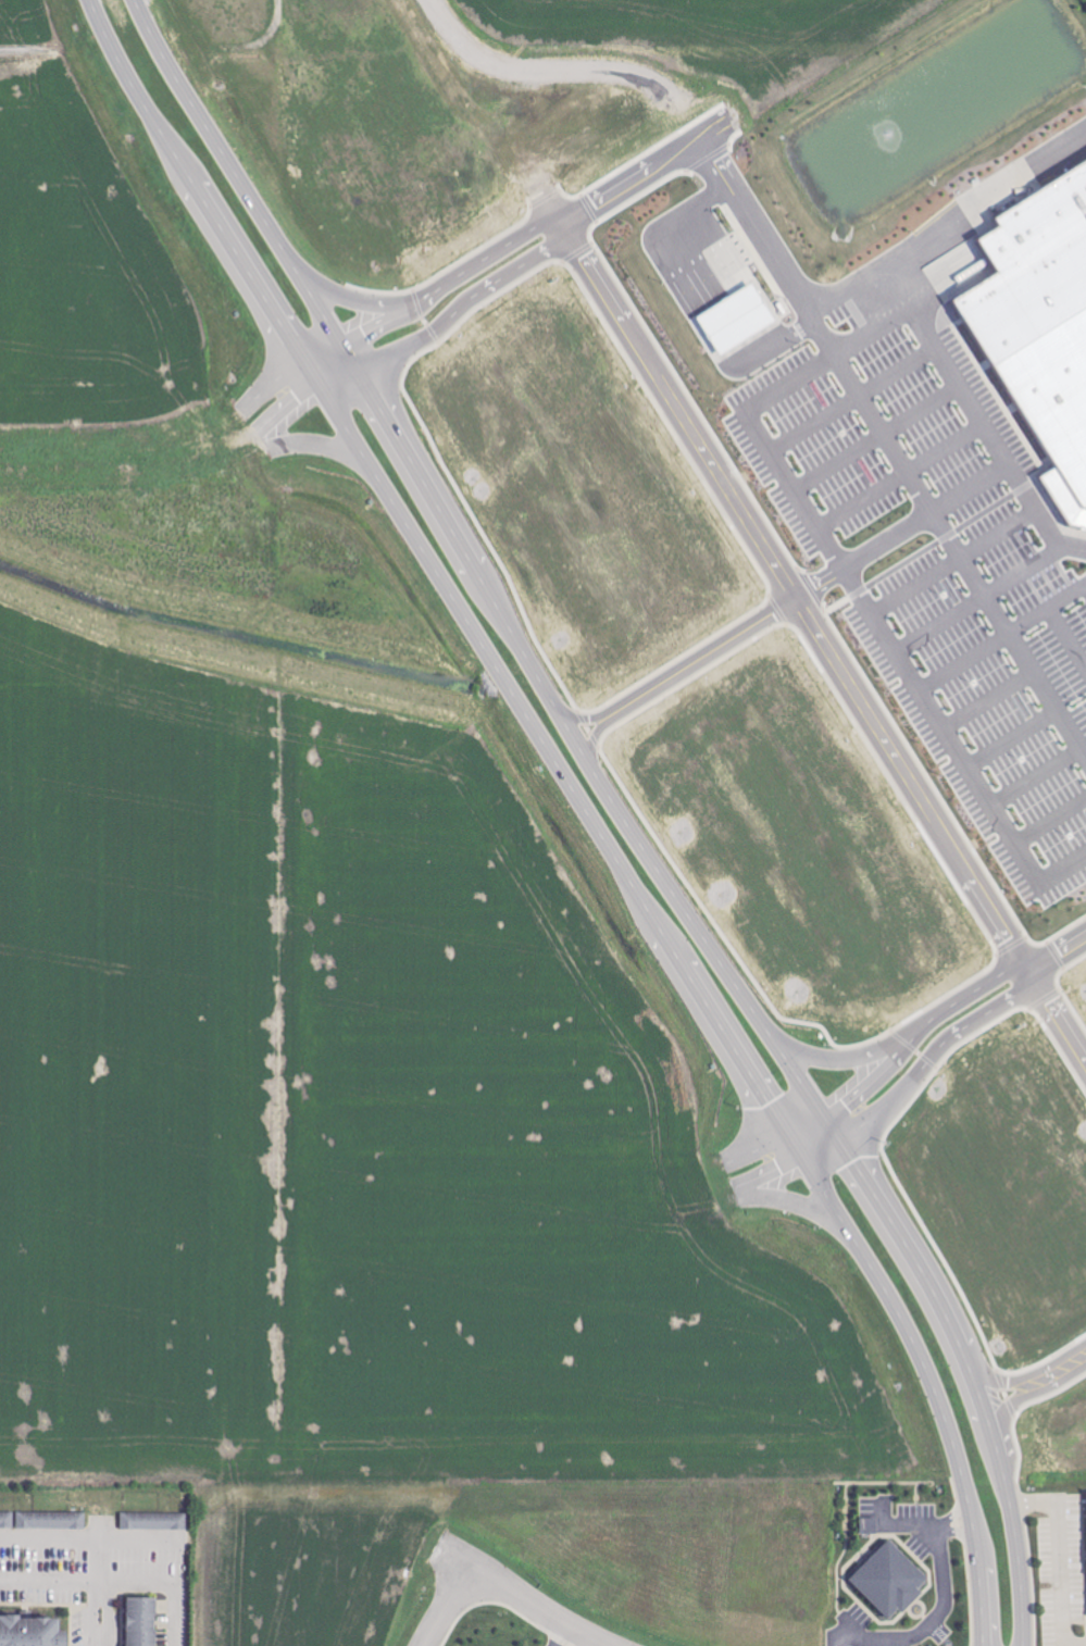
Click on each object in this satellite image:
road: (728, 172)
road: (561, 225)
road: (860, 283)
road: (358, 301)
building: (1034, 314)
building: (738, 319)
gas station: (736, 320)
road: (335, 371)
road: (968, 398)
road: (854, 399)
road: (878, 437)
road: (903, 476)
road: (902, 532)
road: (949, 537)
road: (946, 538)
parking lot: (940, 552)
road: (960, 554)
road: (956, 561)
road: (859, 593)
road: (981, 600)
road: (1048, 609)
road: (832, 610)
road: (882, 624)
road: (817, 631)
road: (1069, 635)
road: (702, 658)
road: (966, 662)
road: (989, 700)
road: (585, 716)
road: (598, 738)
road: (1014, 739)
road: (1039, 778)
road: (584, 805)
road: (620, 810)
road: (1051, 822)
road: (1059, 955)
road: (1029, 972)
road: (846, 1058)
road: (848, 1121)
road: (819, 1142)
road: (1064, 1369)
road: (1010, 1383)
road: (1018, 1405)
road: (956, 1516)
building: (7, 1519)
building: (51, 1520)
building: (154, 1521)
building: (870, 1525)
road: (900, 1526)
road: (958, 1529)
road: (1063, 1559)
building: (891, 1580)
road: (102, 1583)
road: (524, 1599)
road: (445, 1606)
building: (142, 1621)
road: (928, 1622)
building: (27, 1632)
road: (563, 1635)

